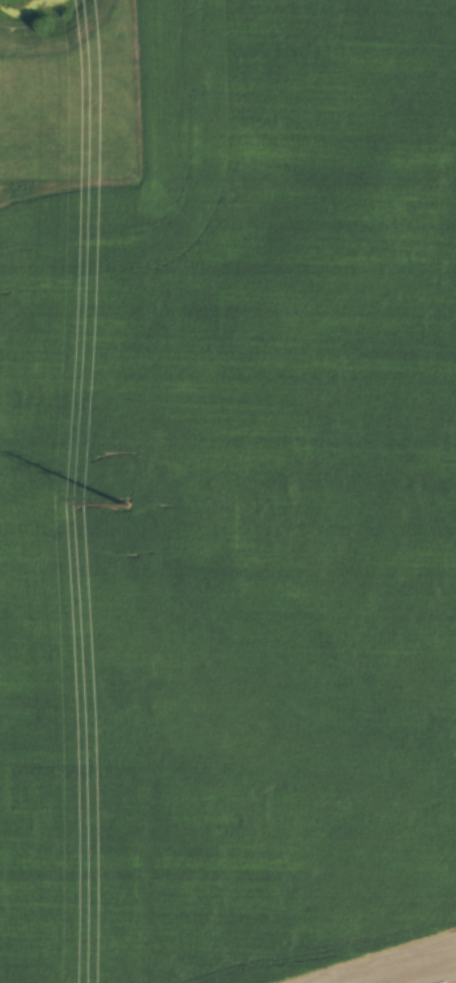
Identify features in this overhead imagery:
power tower: (127, 505)

